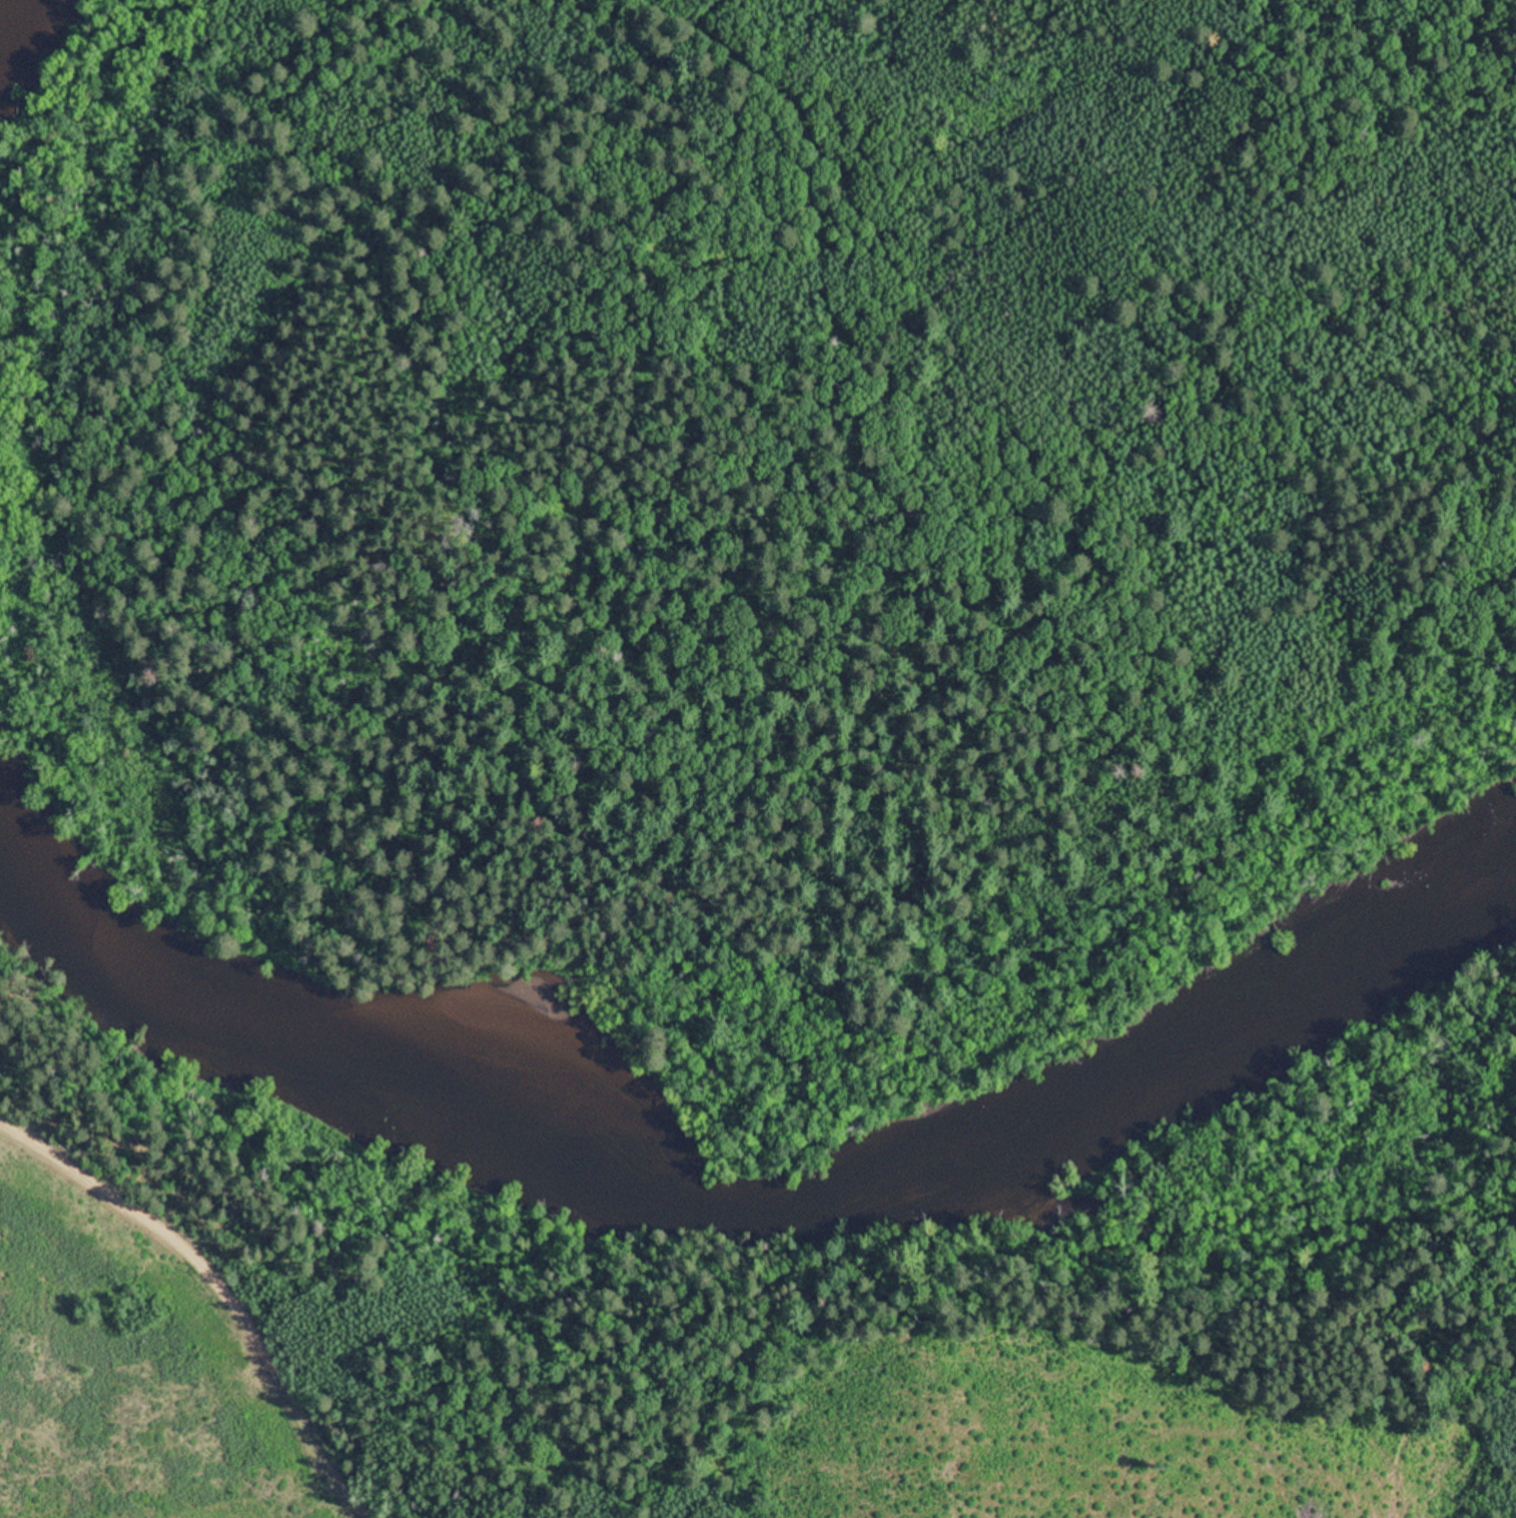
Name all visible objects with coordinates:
river: (752, 1165)
road: (169, 1318)

